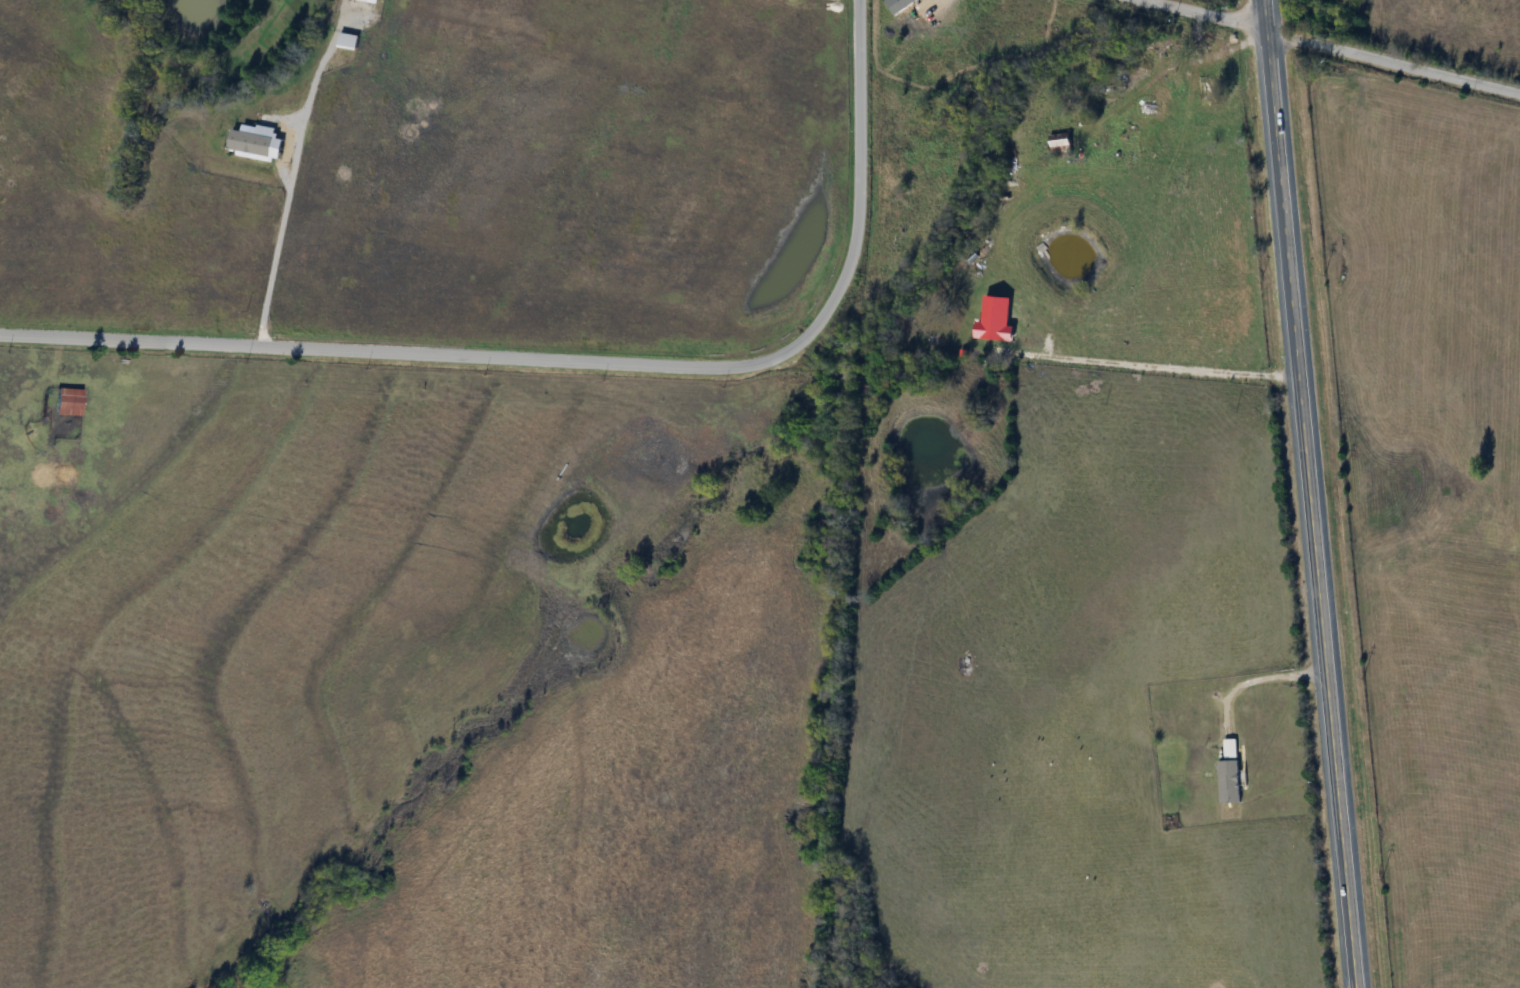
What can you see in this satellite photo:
building: (1207, 41)
road: (1327, 48)
building: (1209, 90)
building: (1159, 104)
building: (1061, 145)
road: (279, 242)
building: (997, 318)
road: (581, 362)
road: (1158, 363)
building: (69, 400)
road: (1308, 494)
road: (1259, 676)
building: (1230, 748)
building: (1229, 781)

